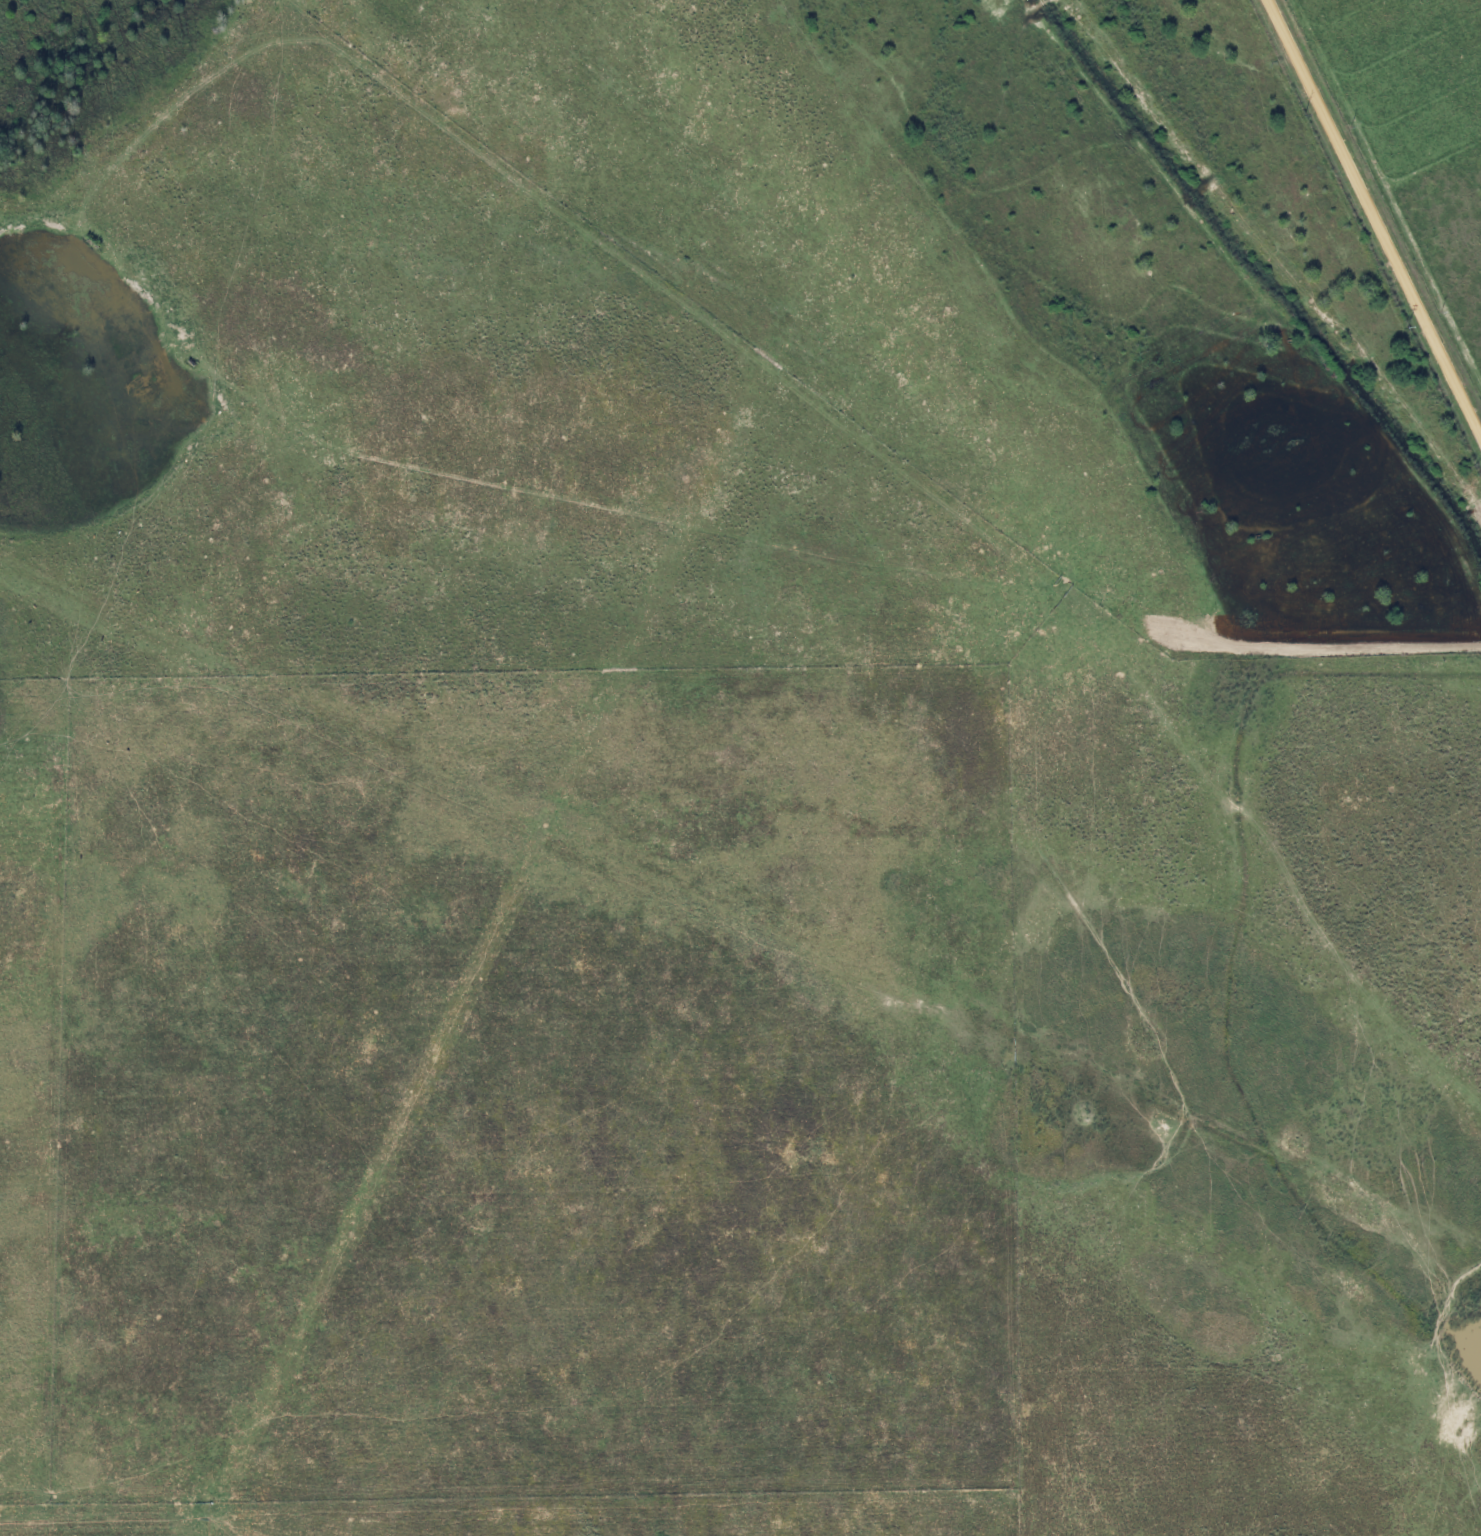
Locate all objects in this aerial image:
road: (1373, 220)

